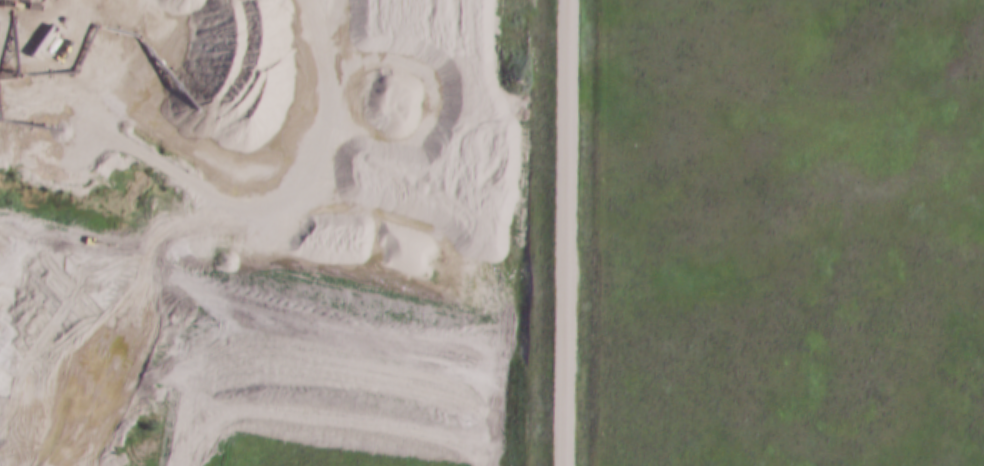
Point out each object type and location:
quarry: (155, 107)
road: (563, 232)

